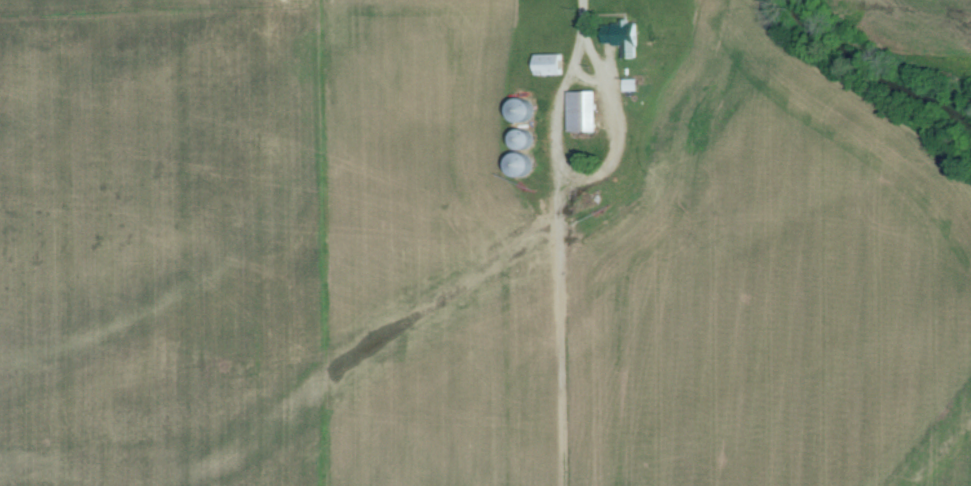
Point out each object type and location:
road: (580, 33)
building: (626, 33)
building: (552, 64)
building: (633, 85)
building: (587, 111)
road: (571, 173)

